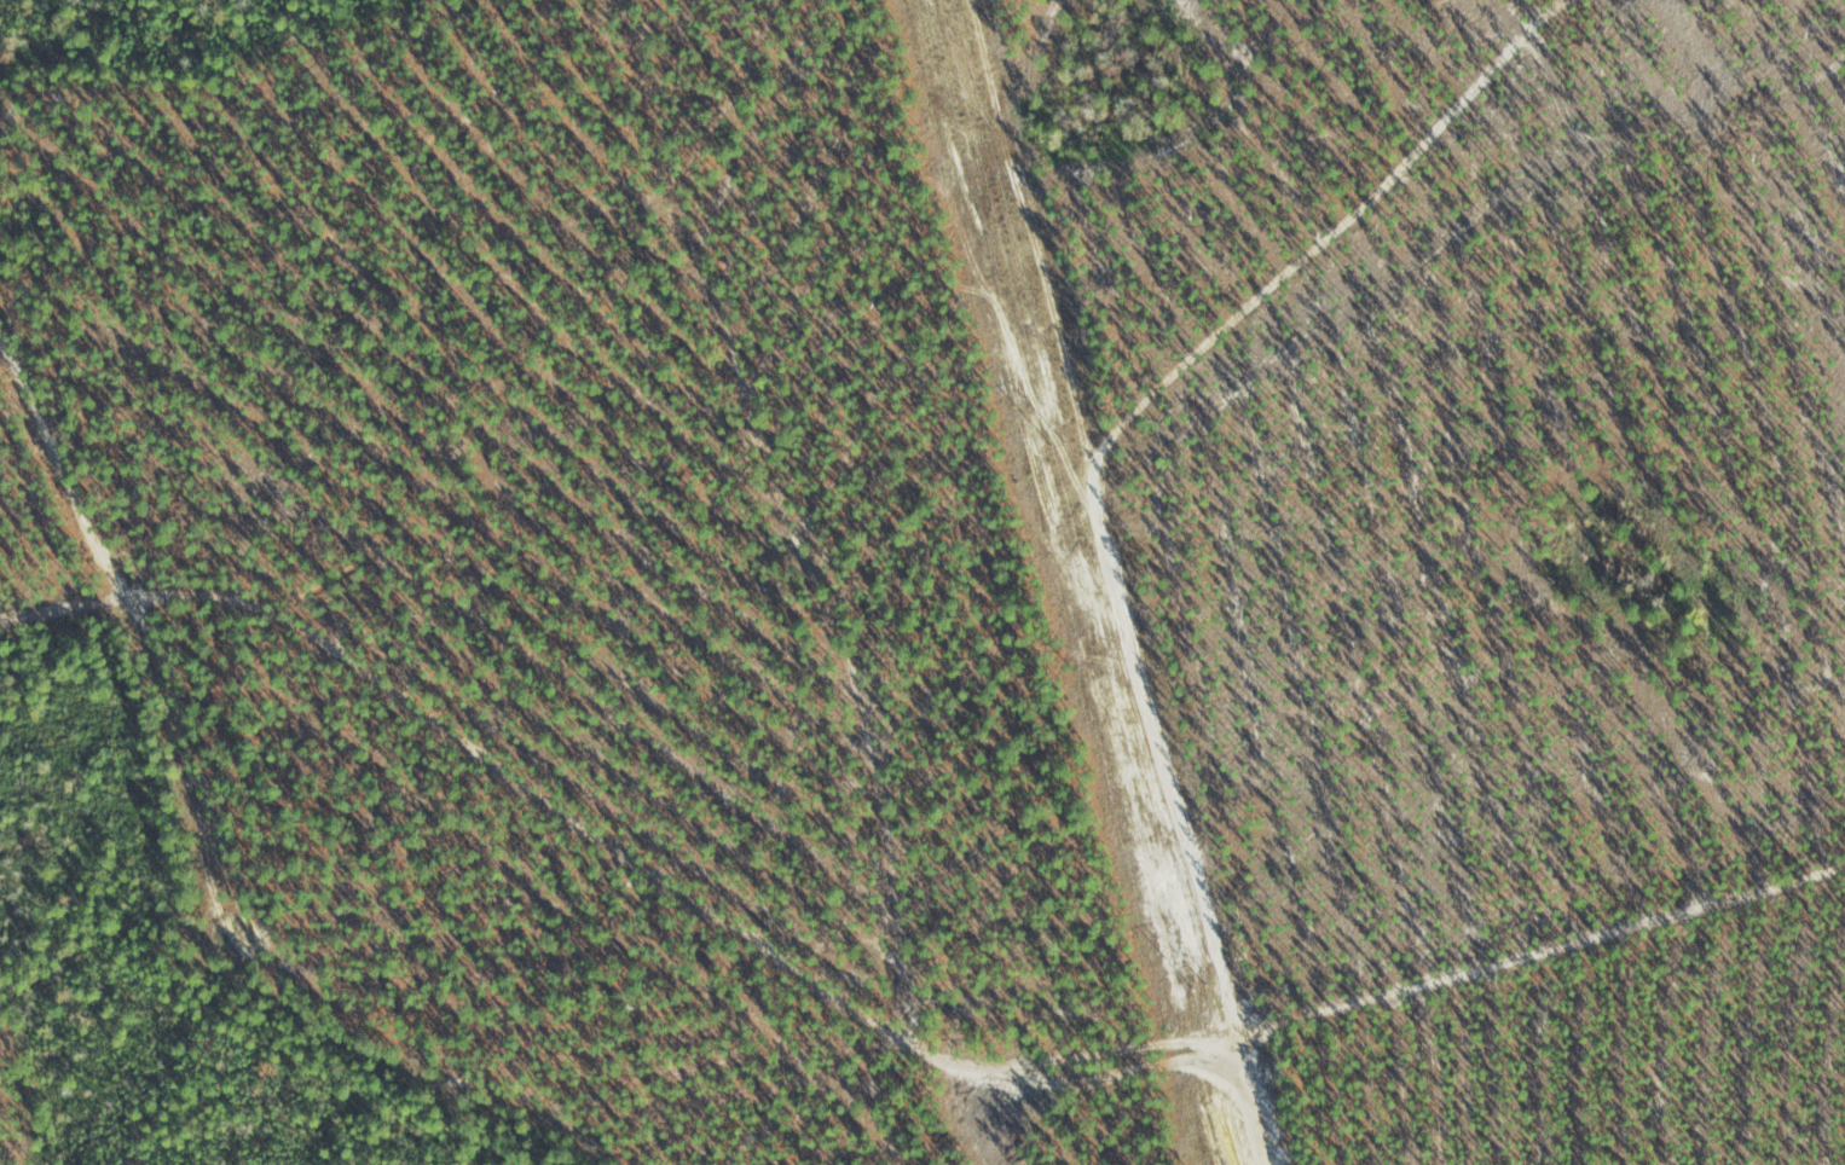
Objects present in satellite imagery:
power tower: (1059, 447)
road: (129, 665)
power tower: (1205, 992)
road: (704, 1036)
road: (580, 1123)

